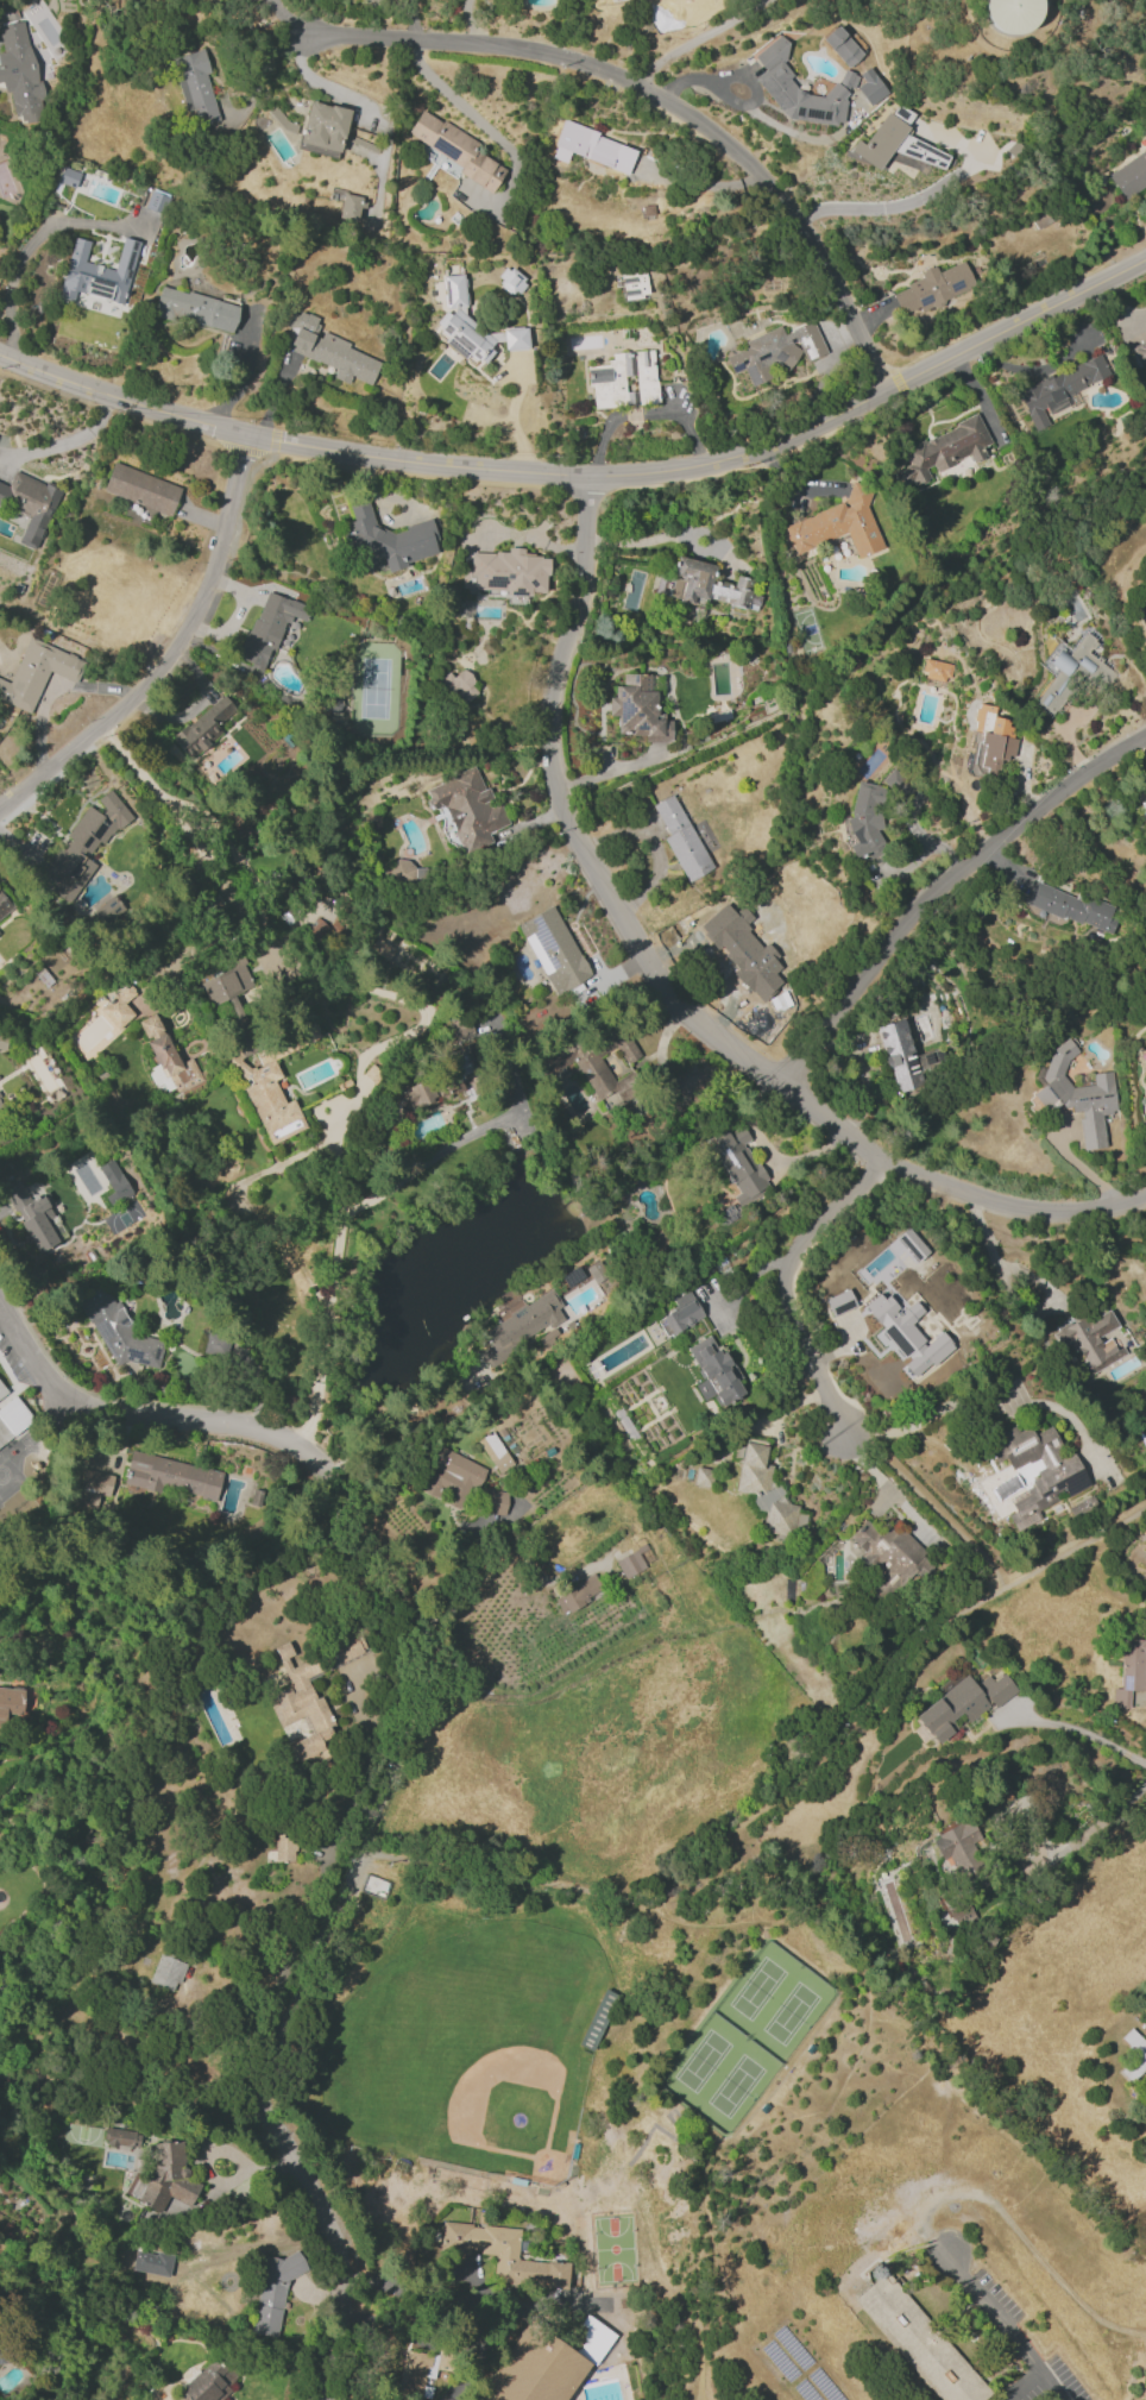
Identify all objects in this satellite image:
building: (372, 1)
building: (1013, 14)
road: (673, 36)
building: (842, 46)
building: (19, 71)
road: (264, 71)
road: (716, 73)
building: (775, 81)
road: (322, 82)
building: (870, 86)
building: (194, 88)
road: (665, 101)
road: (464, 107)
building: (323, 128)
building: (593, 146)
building: (896, 147)
building: (455, 149)
building: (1129, 175)
building: (68, 177)
road: (698, 183)
building: (155, 201)
building: (350, 206)
road: (874, 207)
road: (15, 269)
building: (97, 272)
building: (510, 281)
building: (634, 285)
building: (932, 288)
building: (195, 309)
building: (471, 326)
building: (327, 350)
building: (775, 351)
building: (1140, 353)
road: (244, 373)
building: (624, 381)
road: (971, 385)
building: (1059, 389)
road: (121, 397)
road: (641, 413)
road: (511, 420)
road: (65, 442)
building: (943, 450)
road: (717, 459)
building: (140, 489)
building: (29, 503)
building: (839, 526)
road: (528, 535)
building: (388, 538)
building: (505, 572)
building: (706, 585)
building: (1141, 618)
building: (267, 627)
road: (172, 651)
building: (934, 670)
building: (1093, 671)
building: (36, 673)
building: (459, 686)
road: (50, 693)
building: (640, 711)
building: (202, 728)
building: (991, 739)
building: (466, 806)
building: (865, 818)
road: (210, 824)
building: (680, 838)
building: (82, 846)
building: (397, 872)
road: (940, 887)
building: (4, 905)
building: (1073, 906)
building: (553, 949)
building: (226, 982)
road: (666, 991)
road: (563, 1004)
building: (118, 1007)
building: (149, 1026)
building: (2, 1042)
road: (1002, 1047)
building: (899, 1055)
building: (591, 1058)
building: (170, 1066)
building: (273, 1085)
building: (418, 1094)
building: (1076, 1094)
building: (1, 1107)
building: (0, 1124)
building: (738, 1164)
building: (114, 1180)
road: (345, 1211)
building: (33, 1217)
building: (912, 1243)
road: (990, 1251)
road: (786, 1280)
building: (838, 1302)
building: (681, 1312)
building: (521, 1325)
building: (118, 1331)
building: (905, 1332)
building: (1090, 1342)
road: (27, 1346)
building: (228, 1353)
building: (713, 1372)
building: (2, 1388)
building: (11, 1418)
road: (398, 1419)
road: (925, 1419)
road: (196, 1420)
building: (495, 1451)
building: (1037, 1470)
building: (170, 1476)
building: (451, 1477)
building: (703, 1477)
building: (92, 1489)
building: (764, 1491)
building: (493, 1501)
road: (928, 1502)
road: (371, 1552)
building: (890, 1552)
building: (629, 1564)
building: (574, 1594)
building: (347, 1647)
building: (1129, 1671)
building: (10, 1703)
building: (962, 1703)
building: (302, 1704)
road: (1075, 1730)
road: (779, 1793)
road: (1098, 1817)
building: (284, 1848)
building: (959, 1852)
road: (351, 1874)
building: (958, 1909)
building: (165, 1972)
park: (756, 1987)
park: (789, 2012)
building: (597, 2019)
park: (486, 2034)
building: (120, 2036)
building: (1133, 2054)
park: (701, 2057)
park: (733, 2082)
road: (132, 2106)
building: (118, 2137)
building: (164, 2176)
park: (612, 2248)
road: (335, 2250)
building: (502, 2254)
building: (151, 2262)
building: (272, 2291)
road: (461, 2293)
road: (1002, 2326)
road: (692, 2329)
building: (588, 2337)
building: (919, 2339)
building: (0, 2362)
building: (534, 2368)
building: (414, 2371)
road: (594, 2382)
road: (1021, 2386)
road: (1139, 2395)

